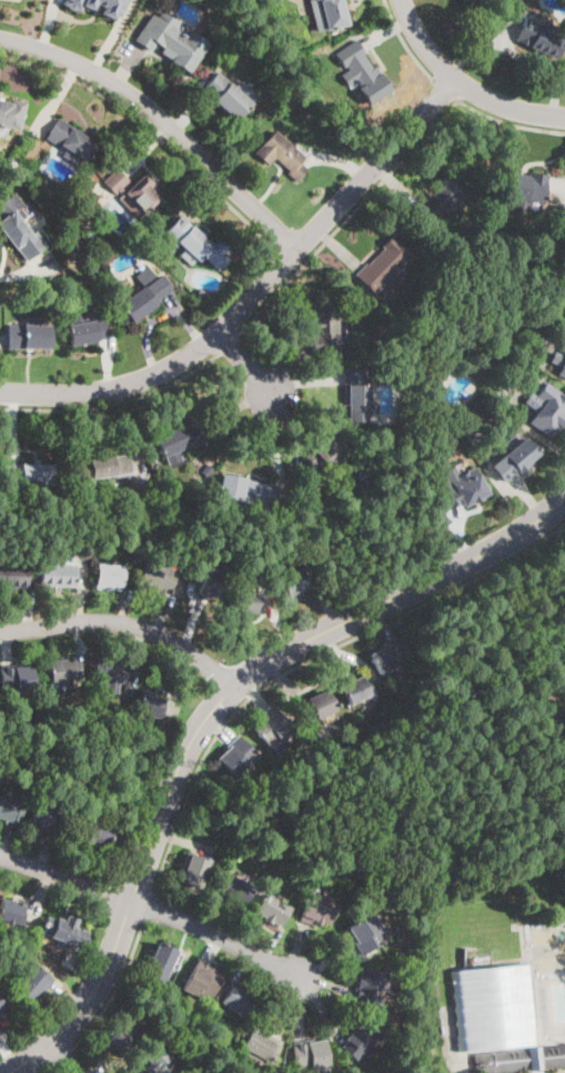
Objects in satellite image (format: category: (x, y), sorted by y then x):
building: (486, 1)
building: (105, 8)
building: (334, 13)
building: (541, 37)
building: (172, 42)
road: (424, 42)
road: (405, 43)
building: (364, 72)
road: (446, 90)
building: (230, 95)
road: (507, 107)
building: (12, 113)
road: (163, 120)
road: (509, 122)
road: (151, 130)
building: (72, 142)
building: (286, 154)
building: (12, 164)
building: (526, 190)
building: (134, 194)
building: (442, 199)
building: (65, 204)
road: (345, 216)
building: (19, 230)
building: (188, 239)
building: (383, 264)
building: (202, 291)
road: (258, 291)
building: (143, 294)
building: (471, 322)
building: (85, 330)
building: (327, 330)
building: (384, 331)
building: (30, 335)
building: (457, 341)
road: (226, 344)
building: (434, 358)
building: (559, 362)
road: (246, 364)
building: (437, 376)
building: (360, 394)
road: (114, 403)
building: (547, 408)
building: (180, 439)
building: (325, 456)
building: (514, 459)
building: (101, 470)
building: (29, 476)
building: (461, 487)
building: (255, 492)
building: (157, 528)
building: (80, 538)
road: (514, 557)
building: (12, 574)
building: (59, 575)
building: (111, 577)
building: (159, 577)
building: (294, 583)
building: (212, 584)
building: (251, 601)
road: (125, 622)
road: (460, 635)
building: (387, 657)
building: (64, 669)
building: (111, 672)
building: (19, 679)
building: (356, 689)
road: (255, 691)
road: (472, 691)
building: (152, 705)
building: (314, 706)
road: (209, 715)
building: (272, 727)
building: (239, 756)
road: (518, 791)
building: (9, 810)
building: (46, 820)
park: (491, 828)
building: (97, 833)
building: (193, 870)
building: (315, 874)
road: (65, 877)
building: (238, 890)
road: (149, 907)
building: (319, 909)
building: (273, 910)
building: (12, 912)
building: (65, 932)
building: (366, 933)
road: (215, 934)
building: (160, 964)
building: (202, 980)
building: (34, 984)
road: (113, 988)
building: (371, 988)
building: (392, 989)
building: (238, 1002)
building: (2, 1003)
building: (493, 1003)
building: (122, 1039)
building: (362, 1039)
building: (263, 1044)
building: (311, 1055)
road: (60, 1056)
road: (61, 1057)
building: (519, 1059)
building: (159, 1060)
road: (46, 1070)
road: (564, 1072)

